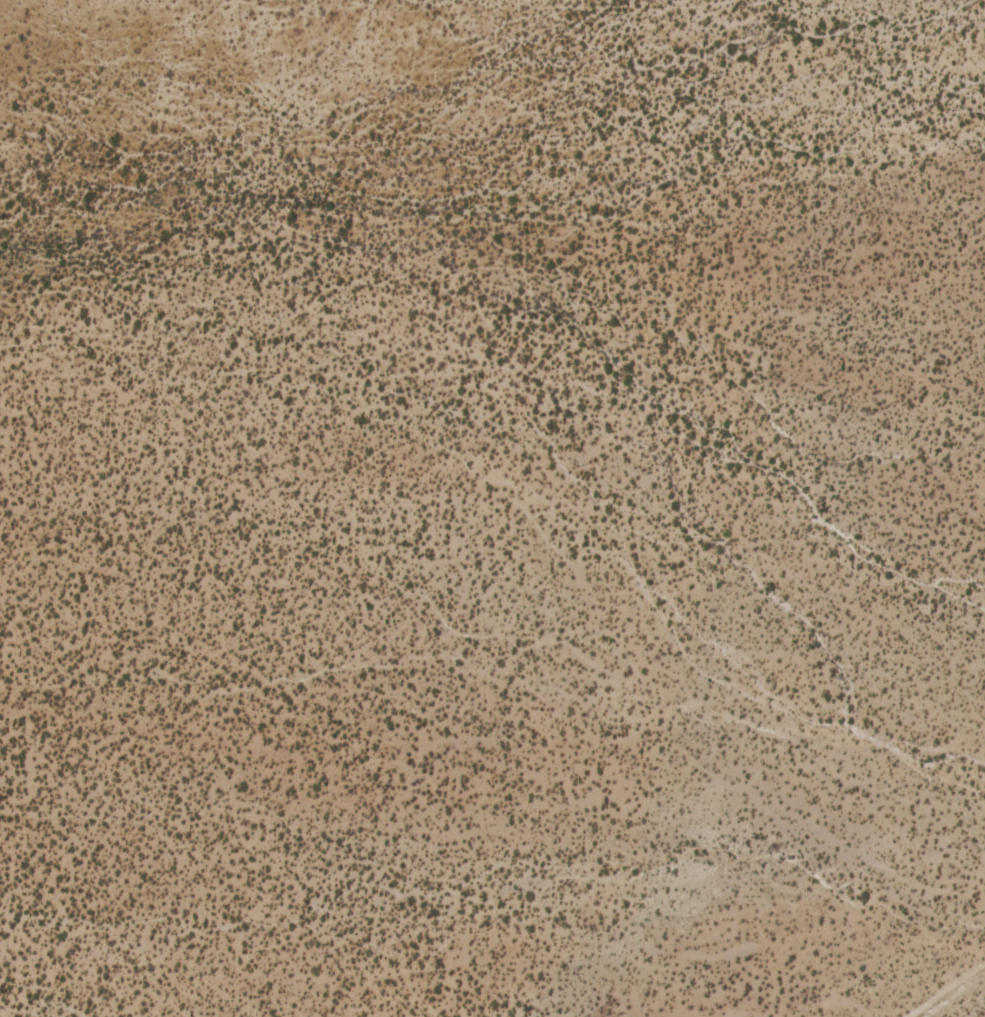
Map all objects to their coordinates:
road: (907, 963)

